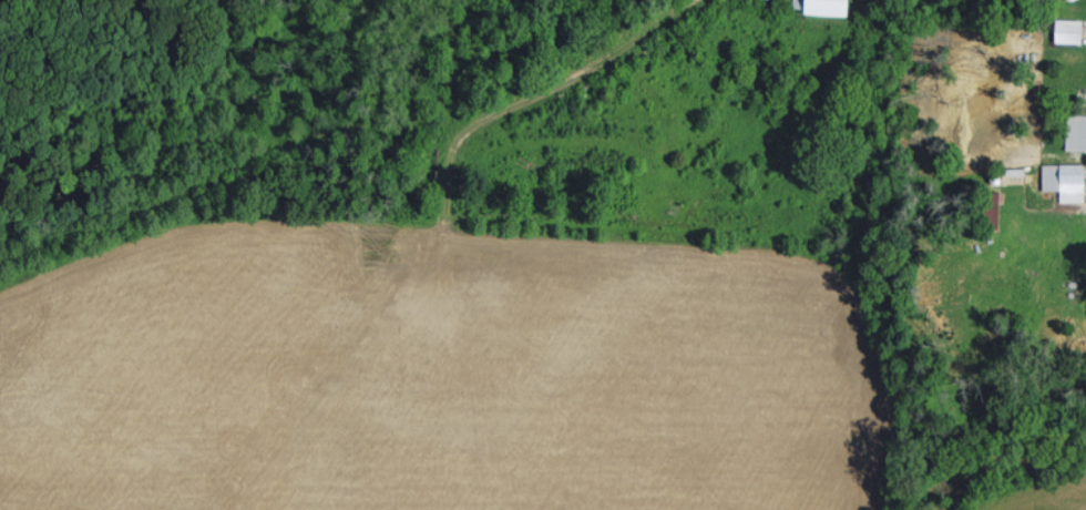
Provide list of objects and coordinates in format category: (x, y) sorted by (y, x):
building: (827, 7)
building: (1070, 29)
building: (1077, 130)
building: (1066, 180)

